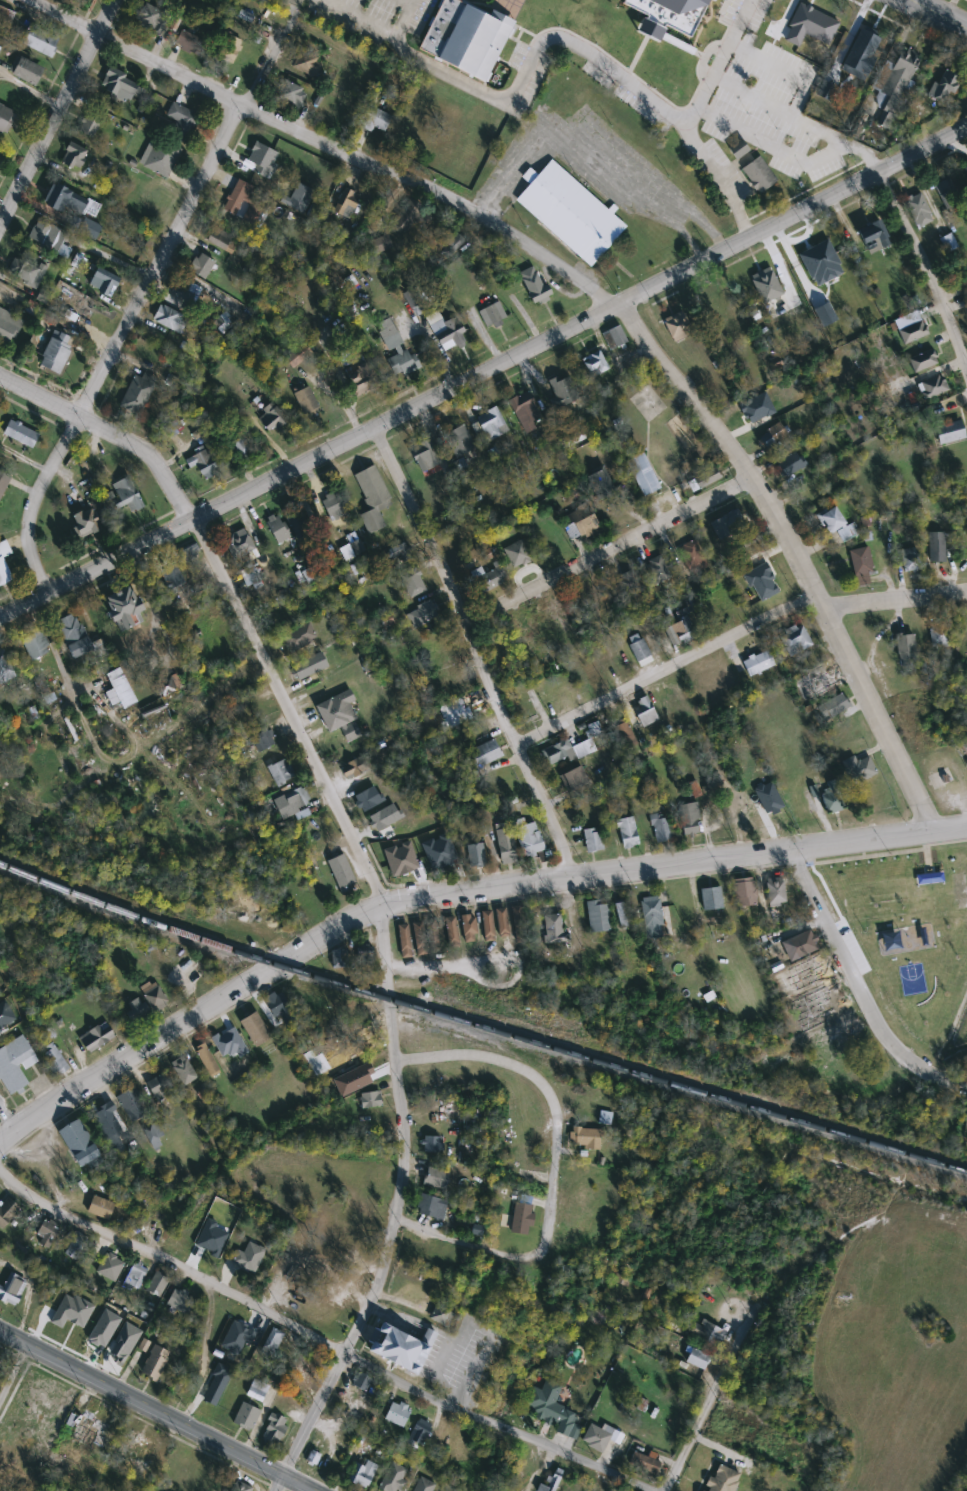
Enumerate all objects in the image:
road: (409, 0)
road: (943, 12)
building: (666, 14)
road: (104, 16)
parking lot: (368, 16)
road: (61, 17)
road: (402, 17)
building: (5, 18)
building: (151, 19)
building: (824, 21)
building: (774, 28)
building: (465, 34)
road: (554, 36)
building: (39, 42)
building: (189, 43)
building: (228, 49)
road: (272, 52)
building: (859, 56)
building: (305, 64)
road: (170, 67)
road: (783, 68)
building: (26, 72)
building: (900, 74)
building: (944, 85)
building: (118, 86)
building: (290, 95)
parking lot: (764, 97)
road: (800, 119)
building: (5, 120)
building: (373, 120)
building: (91, 121)
building: (181, 122)
road: (48, 129)
road: (567, 139)
road: (771, 146)
building: (73, 158)
building: (810, 158)
building: (258, 160)
building: (158, 161)
building: (466, 161)
parking lot: (583, 165)
building: (758, 175)
road: (718, 177)
building: (63, 200)
building: (242, 202)
building: (345, 204)
building: (568, 209)
road: (679, 211)
building: (919, 211)
building: (408, 218)
building: (873, 237)
building: (48, 238)
building: (220, 240)
building: (948, 243)
building: (966, 260)
building: (808, 264)
building: (201, 266)
building: (28, 271)
road: (923, 271)
building: (101, 284)
building: (534, 285)
building: (765, 285)
building: (707, 307)
building: (492, 315)
building: (170, 321)
building: (678, 326)
building: (8, 327)
building: (913, 333)
building: (448, 334)
building: (614, 337)
road: (115, 345)
building: (395, 351)
building: (55, 352)
building: (922, 359)
building: (594, 363)
road: (482, 372)
building: (361, 380)
road: (675, 382)
building: (932, 387)
building: (562, 391)
building: (137, 394)
building: (306, 402)
building: (756, 411)
building: (524, 412)
building: (270, 419)
building: (489, 421)
building: (949, 432)
building: (20, 434)
road: (108, 435)
building: (458, 441)
building: (240, 443)
building: (426, 459)
building: (204, 465)
building: (789, 465)
building: (643, 475)
building: (706, 477)
building: (4, 478)
building: (600, 483)
building: (125, 495)
building: (373, 497)
building: (333, 506)
building: (830, 520)
building: (85, 522)
building: (580, 522)
building: (296, 523)
building: (729, 524)
building: (277, 529)
building: (241, 547)
building: (937, 548)
road: (606, 550)
building: (190, 554)
building: (911, 559)
building: (4, 563)
building: (861, 566)
building: (658, 569)
building: (249, 575)
building: (490, 578)
building: (172, 581)
building: (413, 583)
building: (628, 584)
building: (763, 590)
building: (579, 597)
road: (898, 607)
building: (124, 609)
building: (423, 614)
building: (715, 614)
building: (276, 615)
building: (556, 618)
building: (680, 632)
building: (940, 635)
building: (526, 636)
building: (78, 637)
building: (795, 640)
building: (35, 645)
building: (907, 650)
road: (476, 651)
building: (640, 651)
building: (757, 663)
building: (308, 667)
building: (5, 668)
road: (667, 669)
building: (583, 682)
building: (823, 683)
building: (122, 692)
building: (833, 706)
road: (288, 711)
building: (336, 711)
building: (645, 713)
building: (623, 734)
building: (261, 739)
building: (964, 748)
building: (568, 752)
building: (485, 754)
building: (356, 767)
building: (858, 769)
building: (280, 773)
building: (573, 780)
building: (832, 796)
building: (292, 803)
building: (774, 806)
building: (374, 809)
building: (690, 820)
building: (662, 828)
building: (628, 833)
building: (530, 839)
building: (593, 840)
building: (505, 843)
building: (442, 854)
building: (476, 855)
building: (342, 874)
building: (929, 876)
road: (450, 891)
building: (775, 892)
building: (744, 893)
building: (711, 900)
building: (651, 913)
building: (621, 916)
building: (598, 917)
building: (502, 923)
building: (487, 926)
building: (469, 928)
building: (554, 930)
park: (903, 930)
building: (451, 931)
building: (433, 935)
building: (418, 939)
building: (404, 941)
building: (799, 946)
building: (365, 958)
building: (339, 959)
park: (911, 977)
road: (857, 989)
building: (154, 997)
building: (276, 1004)
building: (136, 1010)
railway: (479, 1027)
building: (255, 1030)
building: (96, 1038)
building: (53, 1059)
building: (206, 1060)
building: (14, 1065)
building: (183, 1071)
building: (159, 1087)
building: (370, 1100)
building: (133, 1105)
building: (604, 1118)
road: (6, 1121)
building: (108, 1121)
building: (965, 1128)
building: (584, 1138)
building: (78, 1144)
building: (432, 1146)
road: (553, 1166)
building: (436, 1178)
road: (403, 1200)
building: (432, 1206)
building: (7, 1212)
building: (521, 1219)
building: (45, 1236)
building: (74, 1246)
building: (417, 1248)
building: (249, 1256)
building: (134, 1278)
building: (156, 1285)
building: (11, 1286)
building: (181, 1302)
building: (322, 1315)
building: (441, 1316)
building: (707, 1332)
building: (251, 1333)
building: (271, 1344)
road: (322, 1344)
building: (400, 1346)
building: (288, 1356)
building: (154, 1359)
building: (697, 1359)
road: (11, 1367)
building: (307, 1370)
building: (361, 1382)
building: (258, 1389)
road: (713, 1389)
building: (554, 1409)
road: (156, 1410)
building: (244, 1413)
building: (396, 1414)
building: (274, 1425)
building: (87, 1428)
building: (418, 1433)
building: (600, 1437)
building: (134, 1447)
building: (332, 1458)
building: (364, 1474)
building: (392, 1477)
building: (721, 1479)
road: (273, 1482)
building: (550, 1483)
building: (422, 1484)
building: (238, 1485)

